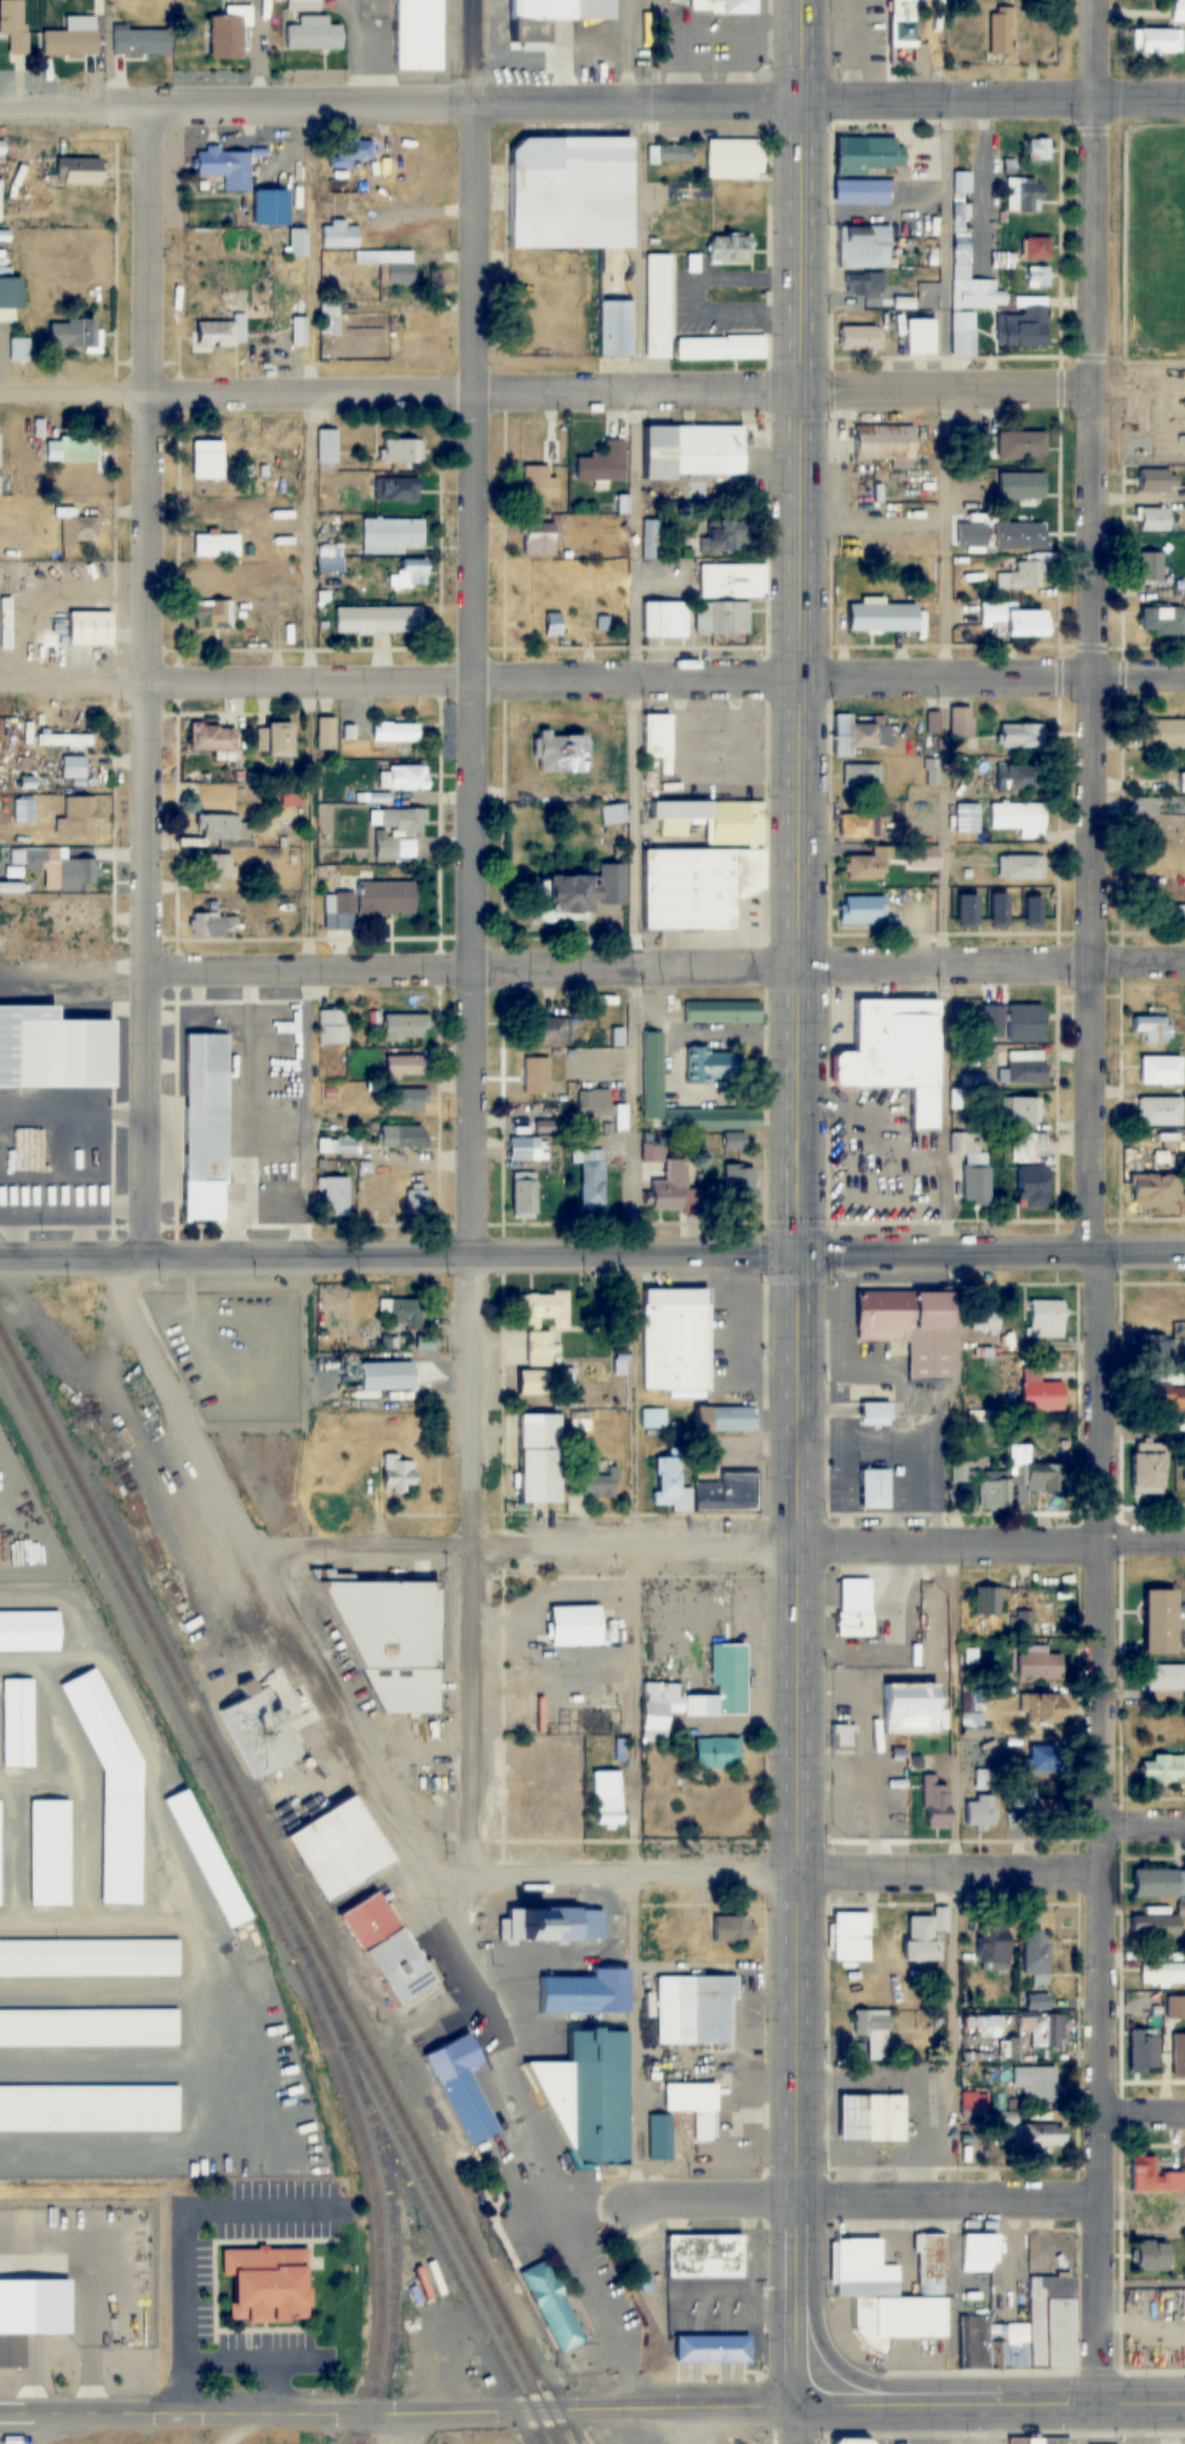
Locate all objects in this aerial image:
building: (304, 5)
building: (721, 5)
building: (1177, 11)
building: (545, 16)
building: (15, 23)
building: (1000, 30)
building: (898, 32)
building: (314, 34)
building: (418, 35)
building: (73, 36)
building: (228, 36)
building: (141, 40)
building: (1155, 40)
road: (994, 101)
road: (401, 105)
building: (1037, 150)
building: (349, 153)
building: (671, 155)
building: (864, 155)
building: (732, 160)
building: (71, 165)
building: (224, 167)
building: (566, 193)
building: (858, 193)
building: (1023, 195)
building: (268, 212)
building: (339, 236)
building: (297, 244)
building: (861, 246)
building: (727, 248)
building: (1036, 250)
building: (1004, 261)
building: (387, 265)
building: (1038, 277)
building: (972, 282)
building: (863, 285)
building: (659, 294)
building: (1023, 325)
building: (613, 328)
building: (302, 332)
building: (963, 333)
building: (79, 334)
building: (213, 334)
building: (351, 336)
building: (918, 336)
building: (859, 338)
building: (18, 350)
road: (546, 391)
traffic signals: (803, 391)
building: (885, 441)
building: (327, 445)
building: (1020, 446)
building: (704, 450)
building: (70, 451)
building: (400, 451)
building: (602, 464)
building: (205, 465)
building: (1152, 480)
building: (1020, 486)
building: (395, 488)
building: (1152, 520)
building: (76, 527)
building: (390, 534)
building: (721, 536)
building: (1019, 536)
building: (538, 539)
building: (649, 539)
building: (214, 545)
building: (330, 557)
building: (1150, 565)
building: (408, 574)
building: (1021, 576)
building: (729, 579)
building: (212, 614)
building: (294, 617)
building: (723, 617)
building: (877, 617)
building: (377, 619)
building: (651, 619)
building: (1011, 619)
building: (1162, 620)
building: (553, 626)
building: (86, 628)
road: (591, 680)
road: (153, 682)
building: (393, 733)
building: (864, 733)
building: (1163, 733)
building: (326, 734)
building: (1019, 737)
building: (212, 738)
building: (62, 740)
building: (654, 740)
building: (273, 742)
building: (555, 754)
building: (71, 767)
building: (402, 778)
building: (863, 778)
building: (1019, 779)
building: (1180, 783)
building: (291, 799)
building: (1145, 807)
building: (24, 811)
building: (614, 814)
building: (80, 817)
building: (968, 818)
building: (1017, 818)
road: (314, 825)
building: (854, 825)
building: (223, 830)
building: (397, 832)
building: (699, 865)
building: (865, 866)
building: (219, 868)
building: (1021, 868)
building: (76, 876)
building: (580, 892)
building: (374, 899)
building: (860, 910)
building: (998, 910)
building: (967, 911)
building: (1163, 914)
building: (212, 925)
road: (635, 935)
road: (474, 940)
road: (669, 967)
building: (722, 1011)
building: (1024, 1024)
building: (332, 1028)
building: (403, 1028)
building: (1152, 1029)
building: (545, 1032)
building: (616, 1036)
building: (50, 1049)
building: (892, 1053)
building: (712, 1064)
building: (403, 1066)
building: (1020, 1068)
building: (652, 1070)
building: (1158, 1070)
building: (536, 1076)
building: (408, 1100)
building: (602, 1107)
building: (1021, 1111)
building: (1158, 1111)
building: (204, 1124)
building: (401, 1137)
building: (963, 1144)
building: (339, 1145)
building: (1027, 1146)
building: (523, 1149)
building: (591, 1177)
building: (664, 1181)
building: (974, 1181)
building: (740, 1185)
building: (1029, 1187)
building: (523, 1189)
building: (1151, 1191)
building: (333, 1196)
road: (802, 1198)
building: (418, 1200)
road: (1097, 1200)
road: (950, 1250)
traffic signals: (802, 1257)
road: (592, 1259)
building: (546, 1309)
building: (406, 1313)
building: (1046, 1318)
building: (984, 1320)
building: (908, 1328)
building: (669, 1335)
building: (354, 1343)
building: (539, 1349)
building: (388, 1376)
building: (536, 1383)
building: (1038, 1393)
building: (1157, 1393)
building: (872, 1414)
building: (722, 1418)
building: (652, 1419)
building: (543, 1458)
building: (1184, 1466)
building: (1145, 1469)
building: (958, 1471)
building: (399, 1473)
building: (1031, 1476)
building: (602, 1481)
building: (869, 1484)
building: (670, 1486)
building: (729, 1492)
building: (992, 1494)
road: (992, 1539)
road: (566, 1541)
railway: (118, 1562)
railway: (111, 1578)
building: (991, 1601)
building: (854, 1610)
building: (1156, 1621)
building: (1027, 1624)
building: (578, 1625)
building: (30, 1631)
building: (394, 1638)
building: (1040, 1660)
building: (1164, 1677)
building: (698, 1693)
building: (1040, 1707)
building: (905, 1708)
building: (972, 1708)
building: (17, 1722)
building: (268, 1730)
building: (843, 1736)
building: (1014, 1742)
building: (720, 1752)
building: (1042, 1758)
building: (105, 1764)
building: (1162, 1768)
building: (984, 1779)
building: (607, 1796)
building: (1024, 1799)
building: (935, 1804)
building: (743, 1808)
building: (979, 1811)
road: (1141, 1821)
building: (344, 1849)
building: (50, 1851)
building: (0, 1853)
building: (208, 1859)
road: (562, 1873)
road: (866, 1873)
building: (1152, 1883)
building: (739, 1923)
building: (553, 1925)
building: (1153, 1927)
building: (848, 1936)
building: (922, 1936)
building: (391, 1950)
building: (991, 1954)
building: (1035, 1956)
building: (1162, 1973)
building: (608, 1991)
building: (1036, 2002)
building: (1175, 2008)
building: (695, 2010)
building: (1038, 2028)
building: (874, 2033)
building: (1009, 2049)
building: (1141, 2050)
building: (1178, 2055)
building: (1035, 2084)
building: (591, 2097)
building: (974, 2104)
building: (470, 2107)
building: (697, 2107)
road: (1143, 2110)
railway: (353, 2112)
building: (868, 2117)
railway: (401, 2119)
railway: (391, 2120)
building: (1038, 2136)
building: (660, 2137)
building: (1152, 2177)
road: (864, 2200)
building: (1153, 2205)
railway: (425, 2216)
road: (181, 2222)
building: (978, 2248)
road: (580, 2253)
building: (706, 2255)
building: (1149, 2255)
railway: (391, 2266)
building: (863, 2270)
building: (271, 2284)
road: (1143, 2284)
building: (551, 2305)
building: (1040, 2329)
building: (972, 2330)
building: (714, 2348)
road: (254, 2363)
road: (275, 2386)
road: (991, 2400)
road: (400, 2409)
road: (801, 2421)
building: (1040, 2440)
building: (851, 2442)

